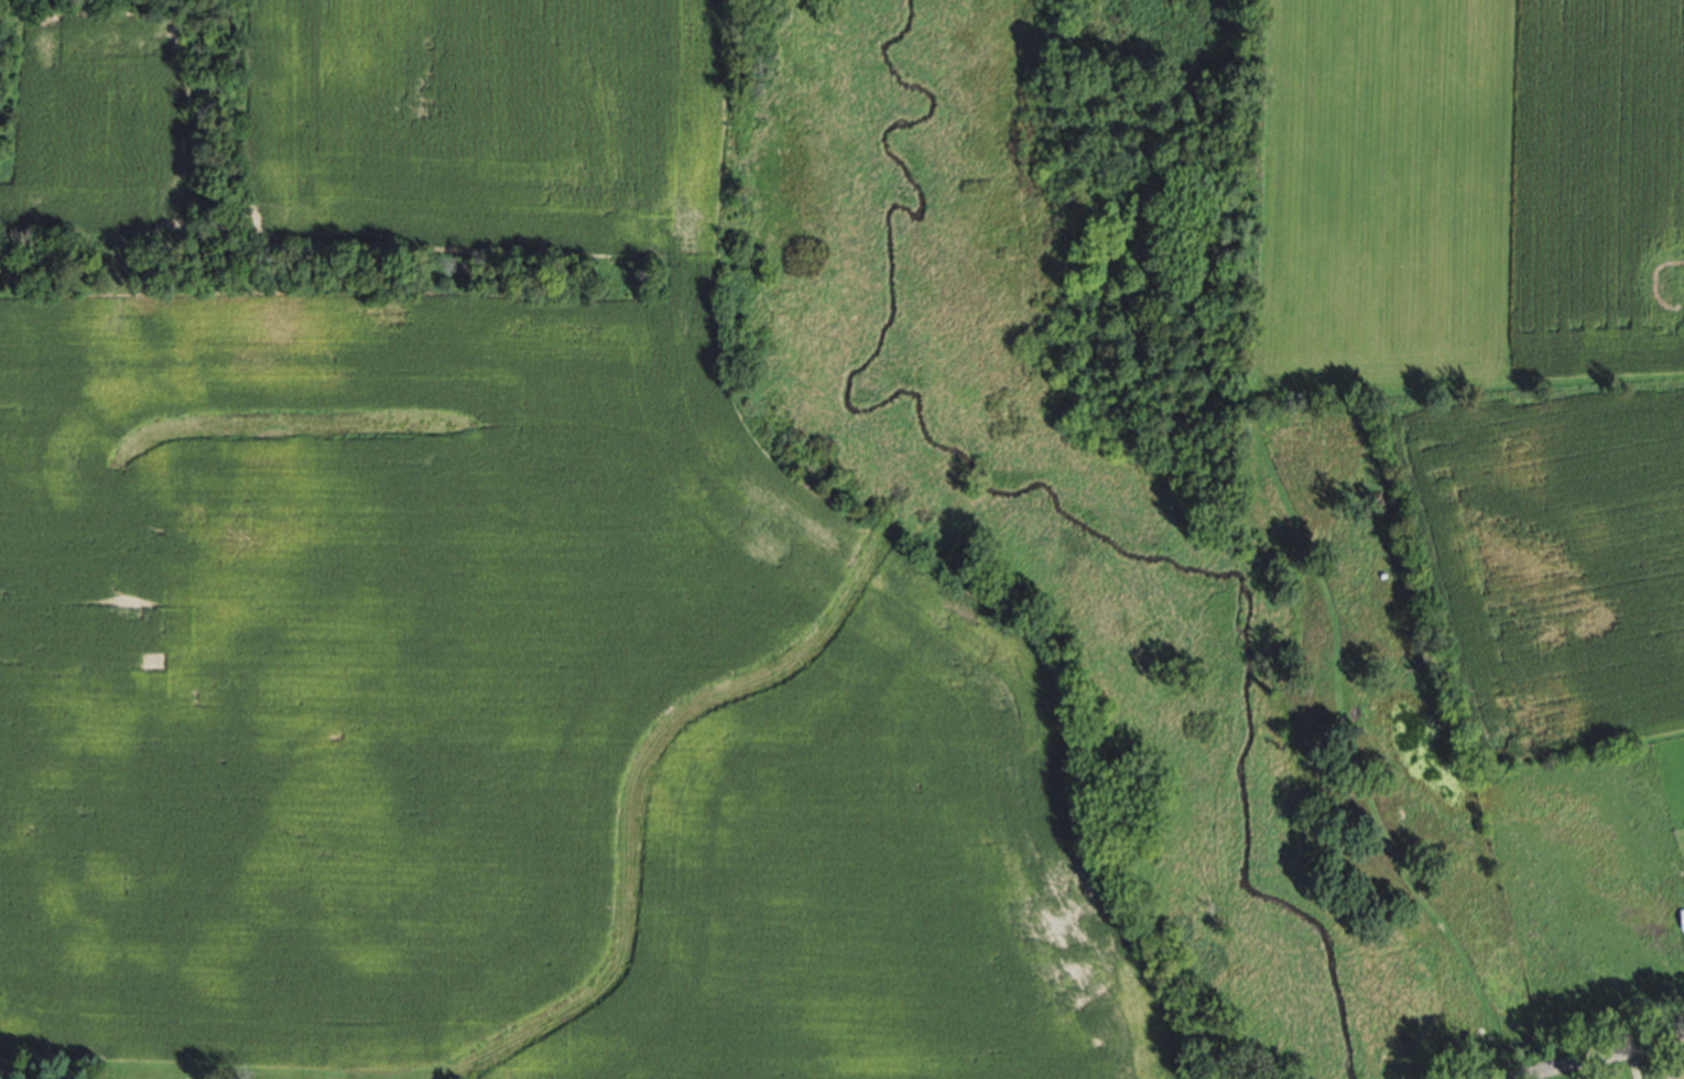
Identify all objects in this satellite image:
building: (1683, 918)
road: (1601, 1056)

